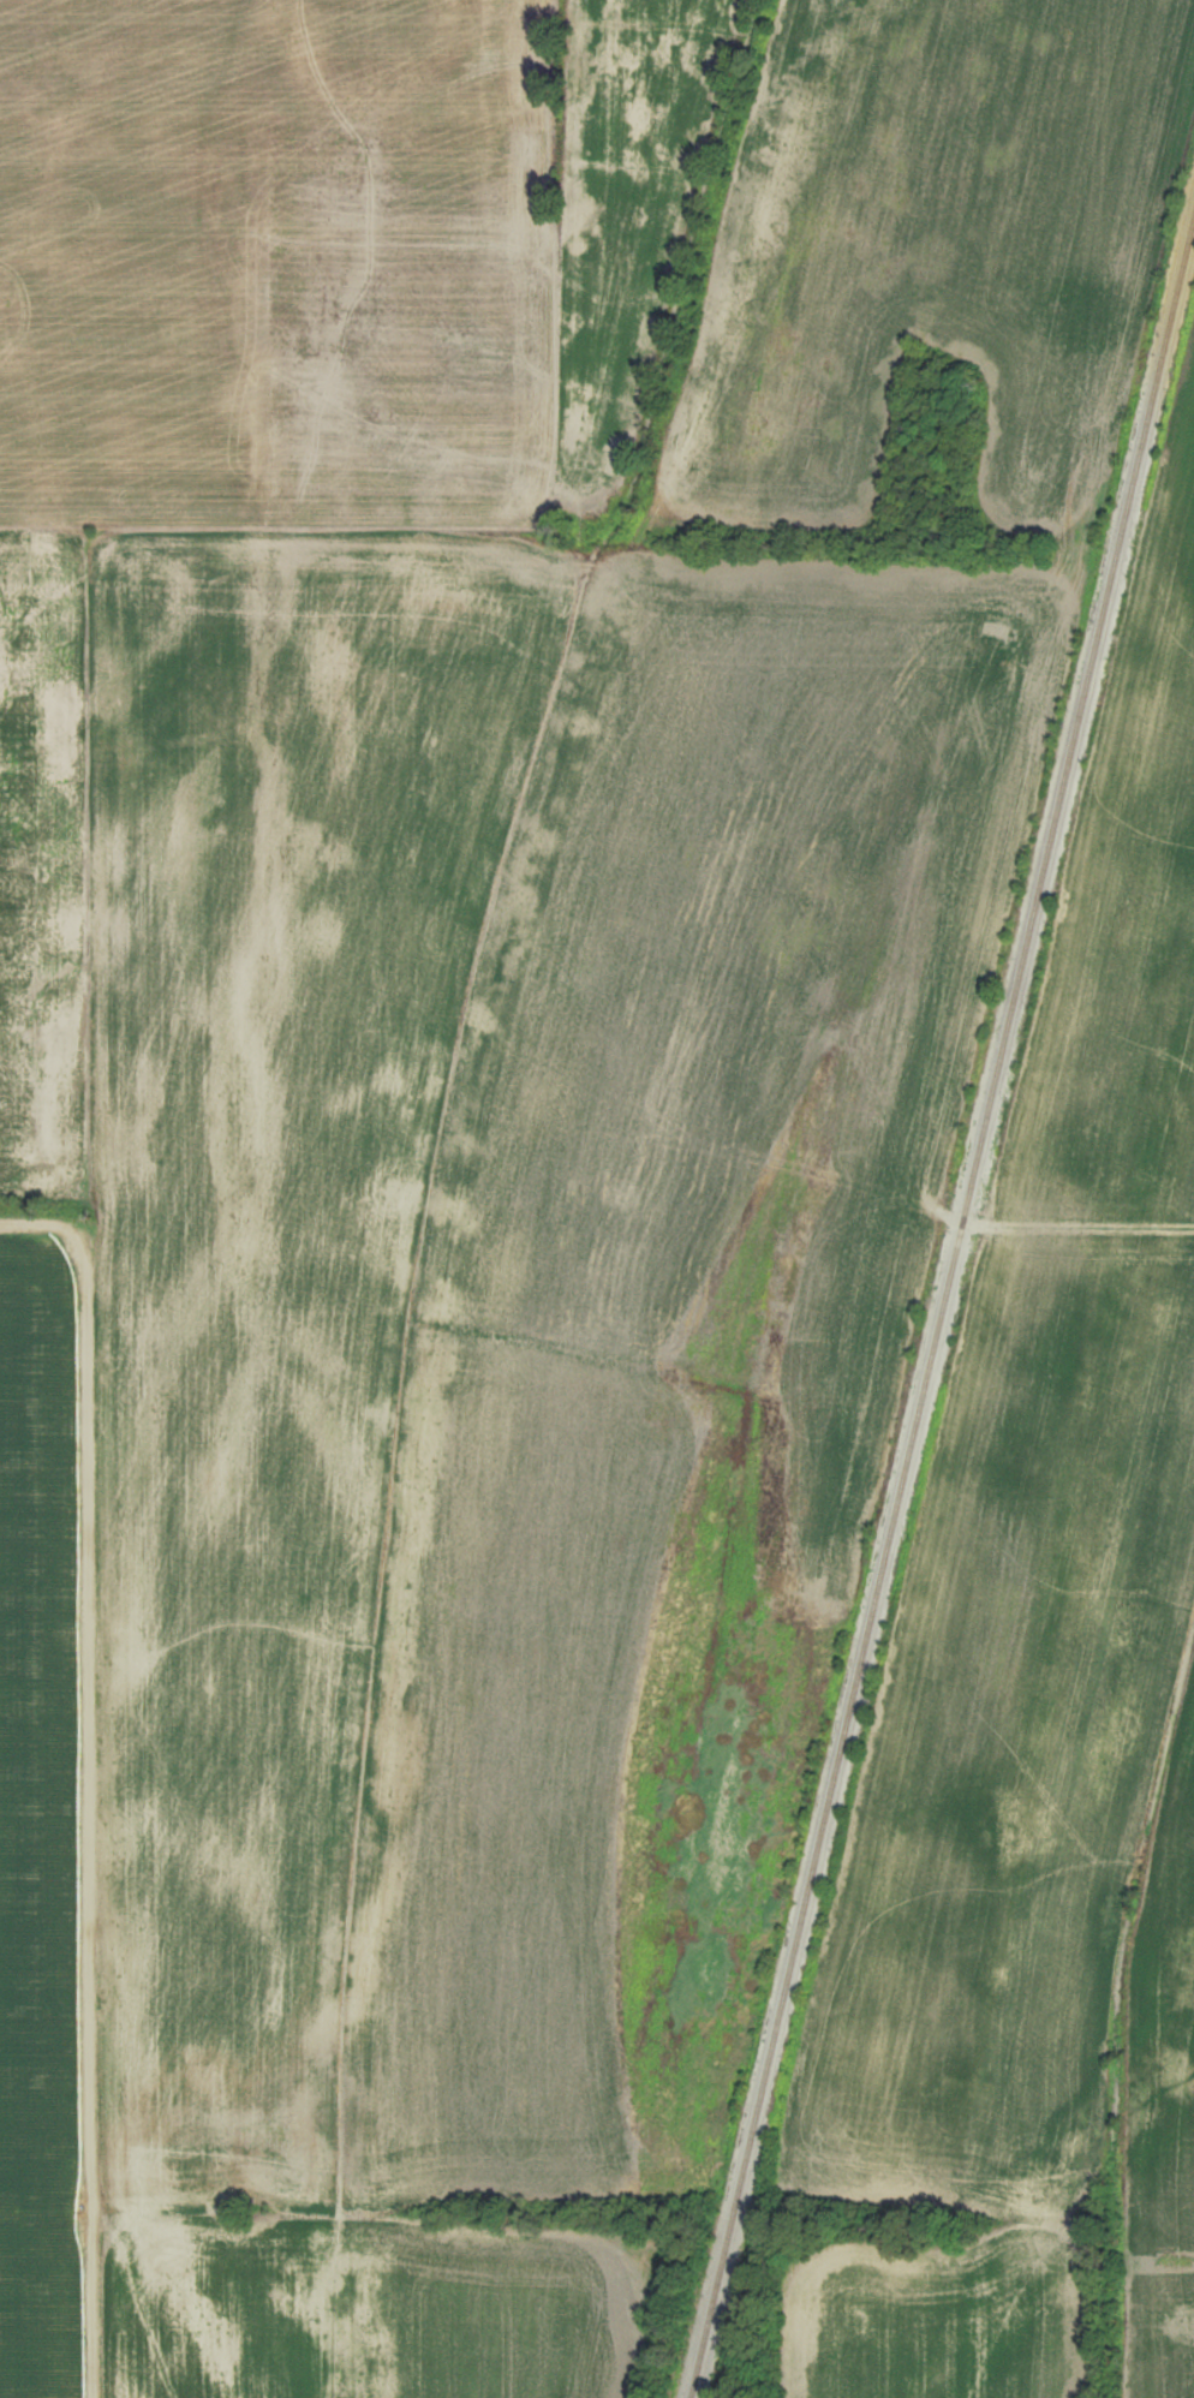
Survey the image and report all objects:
park: (931, 452)
road: (1022, 740)
railway: (942, 1306)

